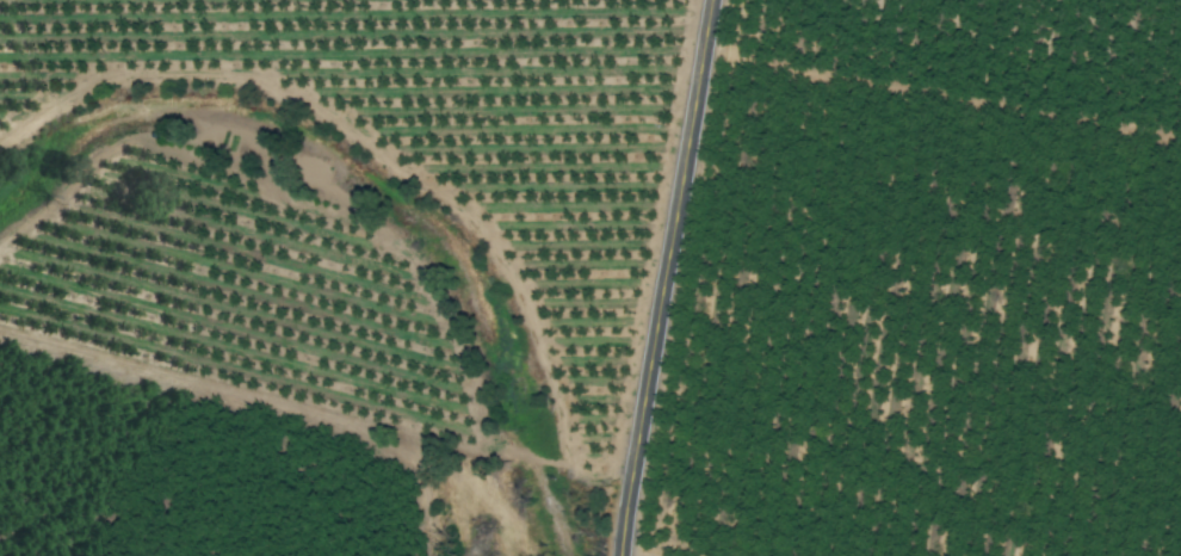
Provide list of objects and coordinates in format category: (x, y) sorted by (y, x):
building: (599, 125)
building: (586, 199)
road: (661, 277)
building: (570, 288)
building: (1174, 472)

